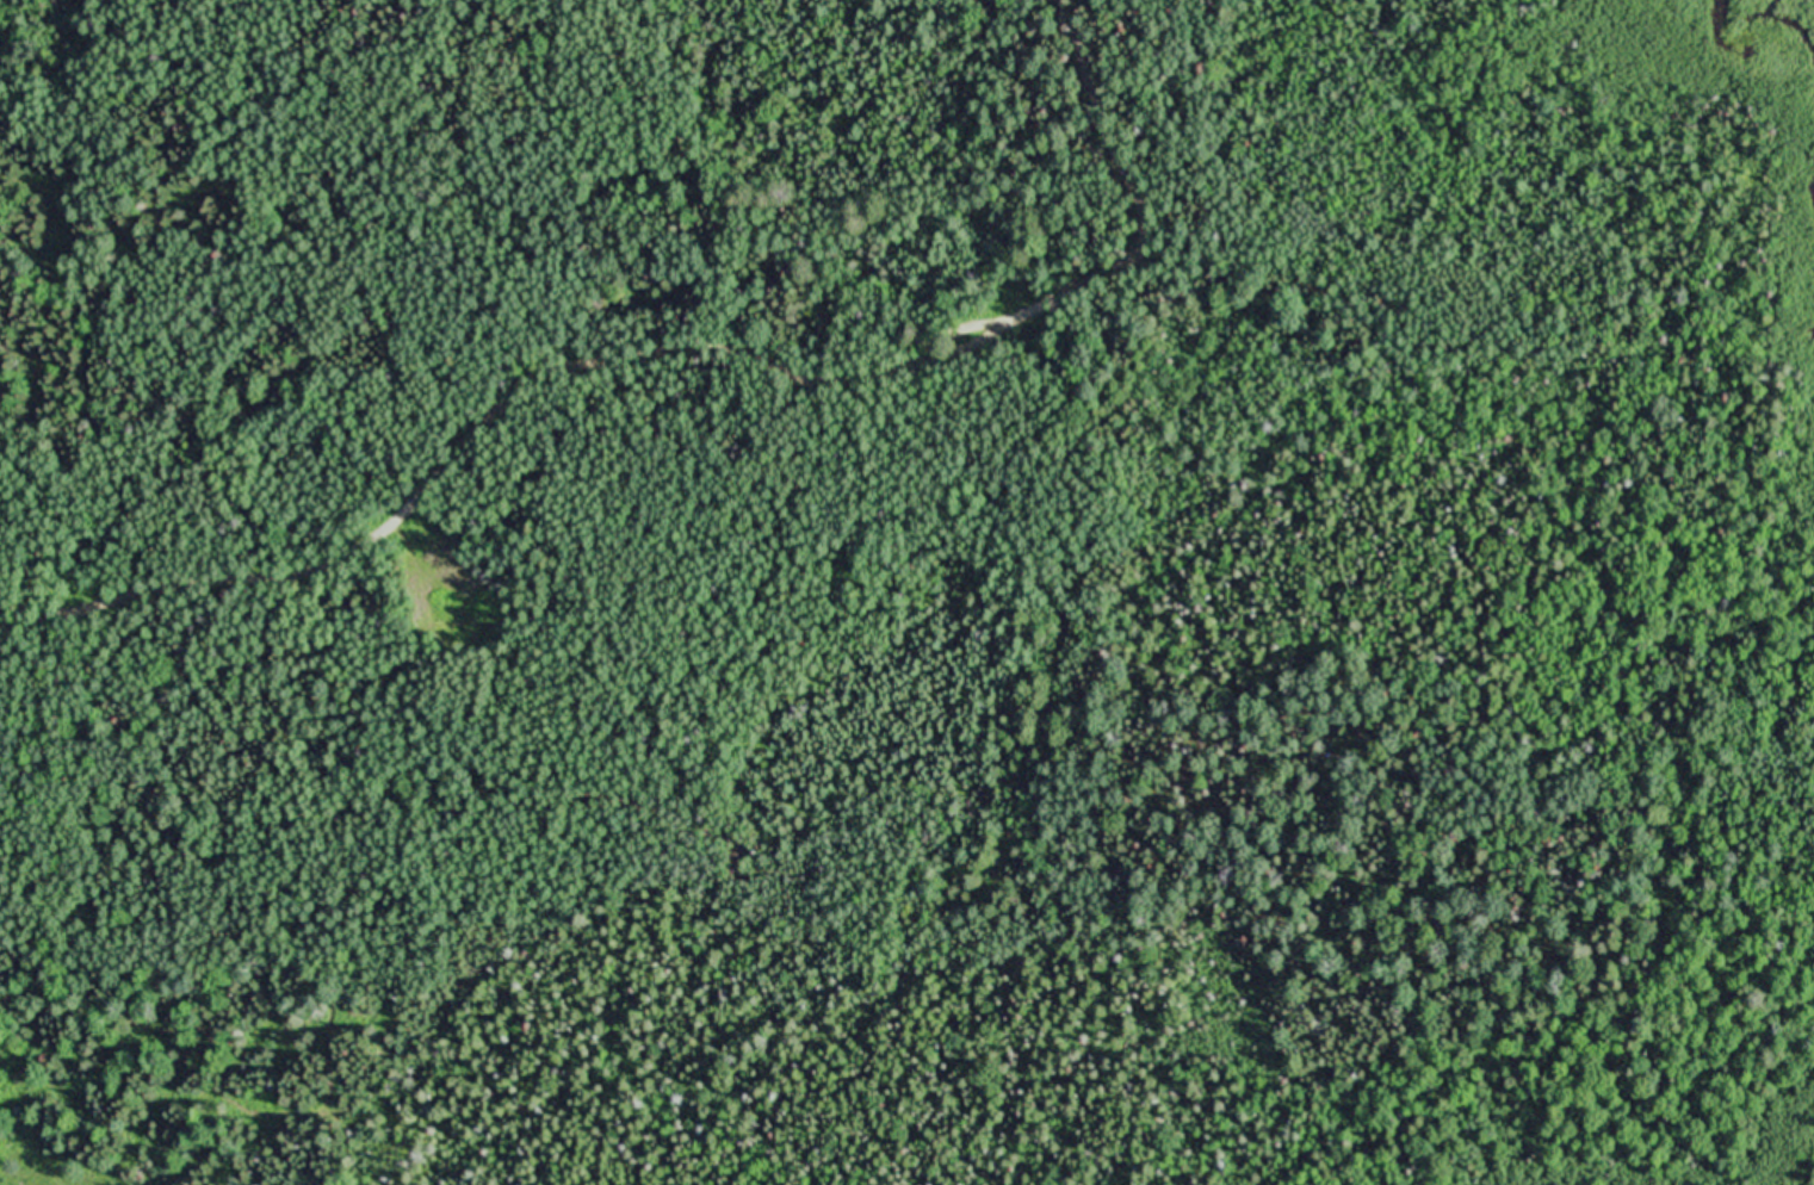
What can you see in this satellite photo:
road: (668, 345)

